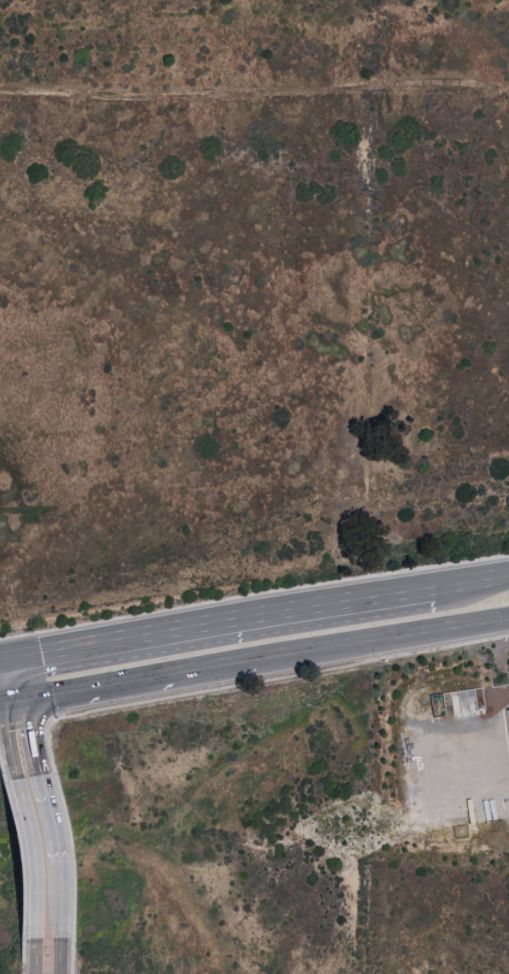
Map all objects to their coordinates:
road: (469, 584)
road: (254, 595)
road: (221, 624)
road: (383, 642)
traffic signals: (11, 657)
road: (5, 658)
road: (165, 680)
road: (14, 681)
road: (45, 701)
traffic signals: (18, 706)
road: (9, 707)
road: (35, 737)
road: (11, 740)
road: (48, 819)
park: (320, 831)
road: (29, 857)
road: (55, 901)
road: (35, 956)
road: (58, 956)

